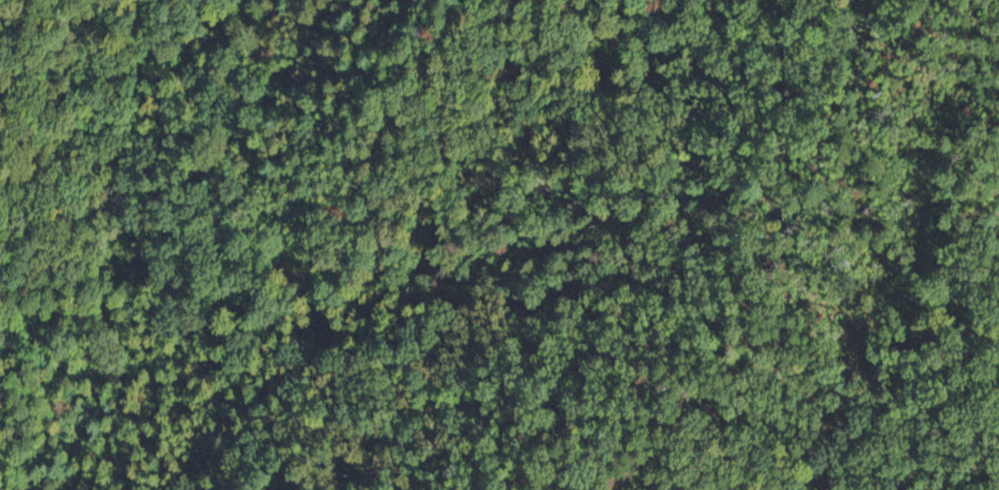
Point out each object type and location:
road: (991, 489)

